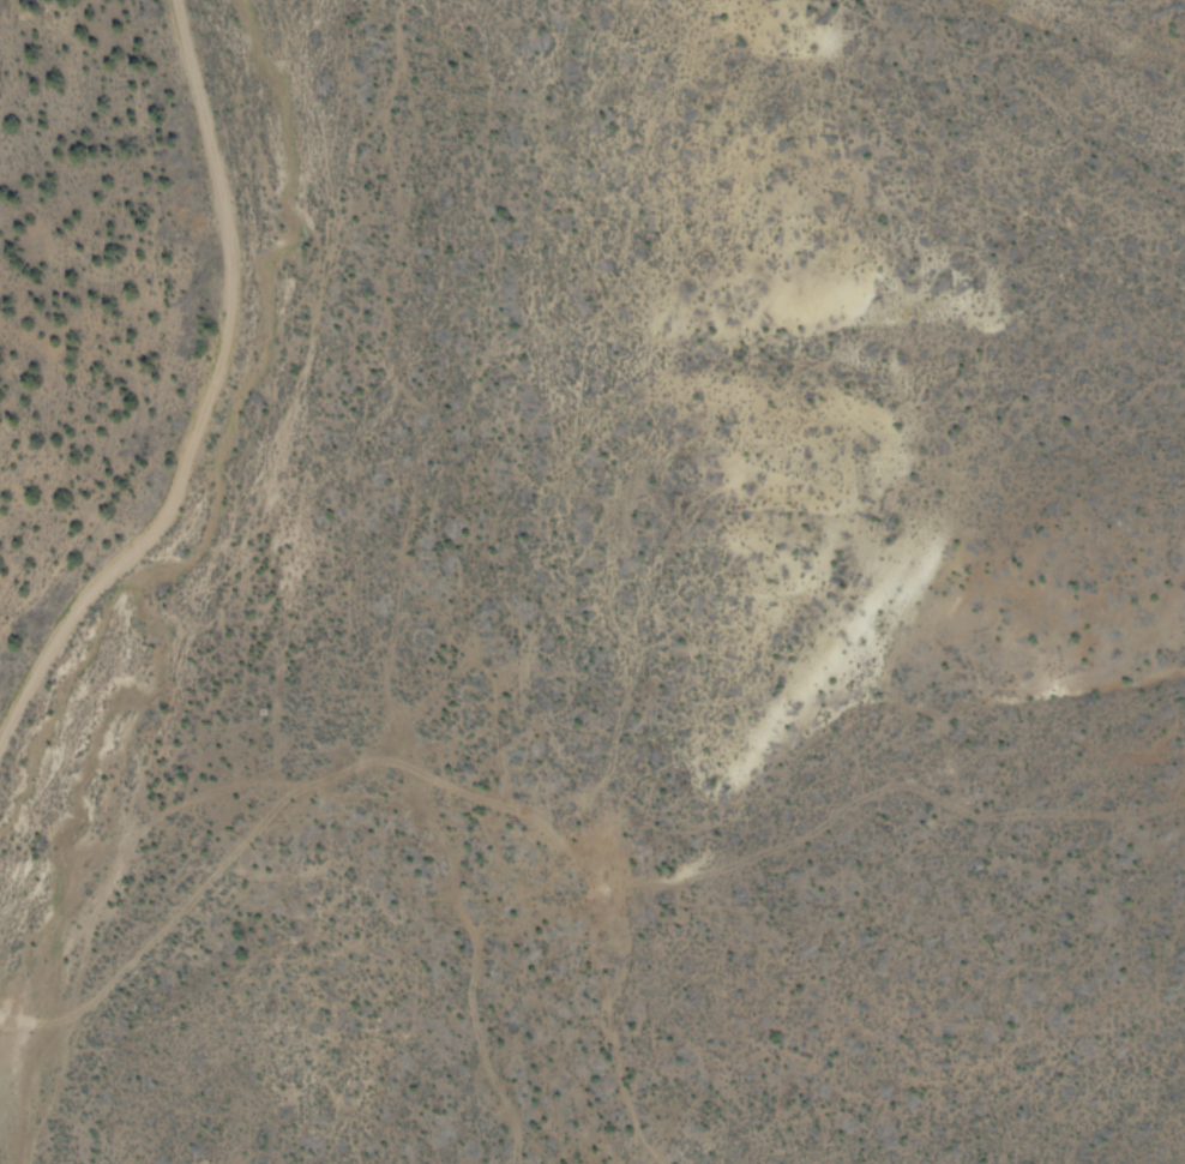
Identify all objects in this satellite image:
road: (172, 434)

